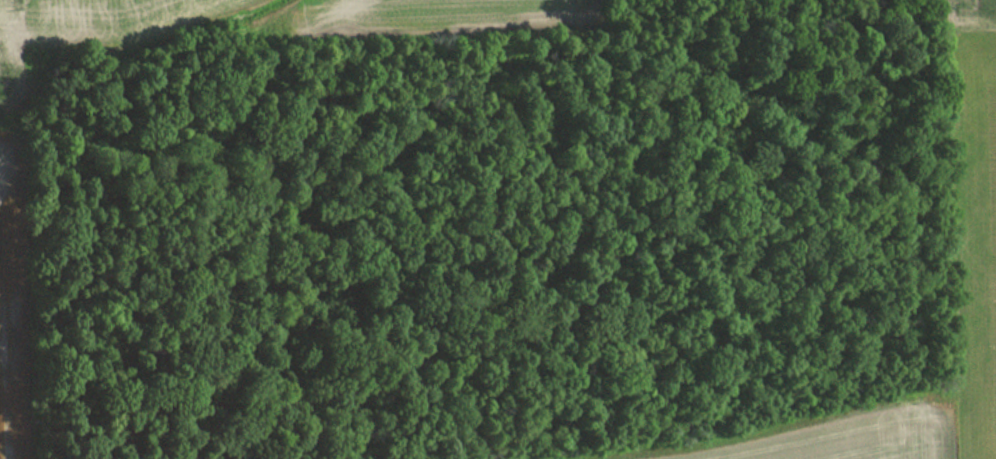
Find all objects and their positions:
crop: (7, 70)
crop: (972, 195)
crop: (18, 302)

